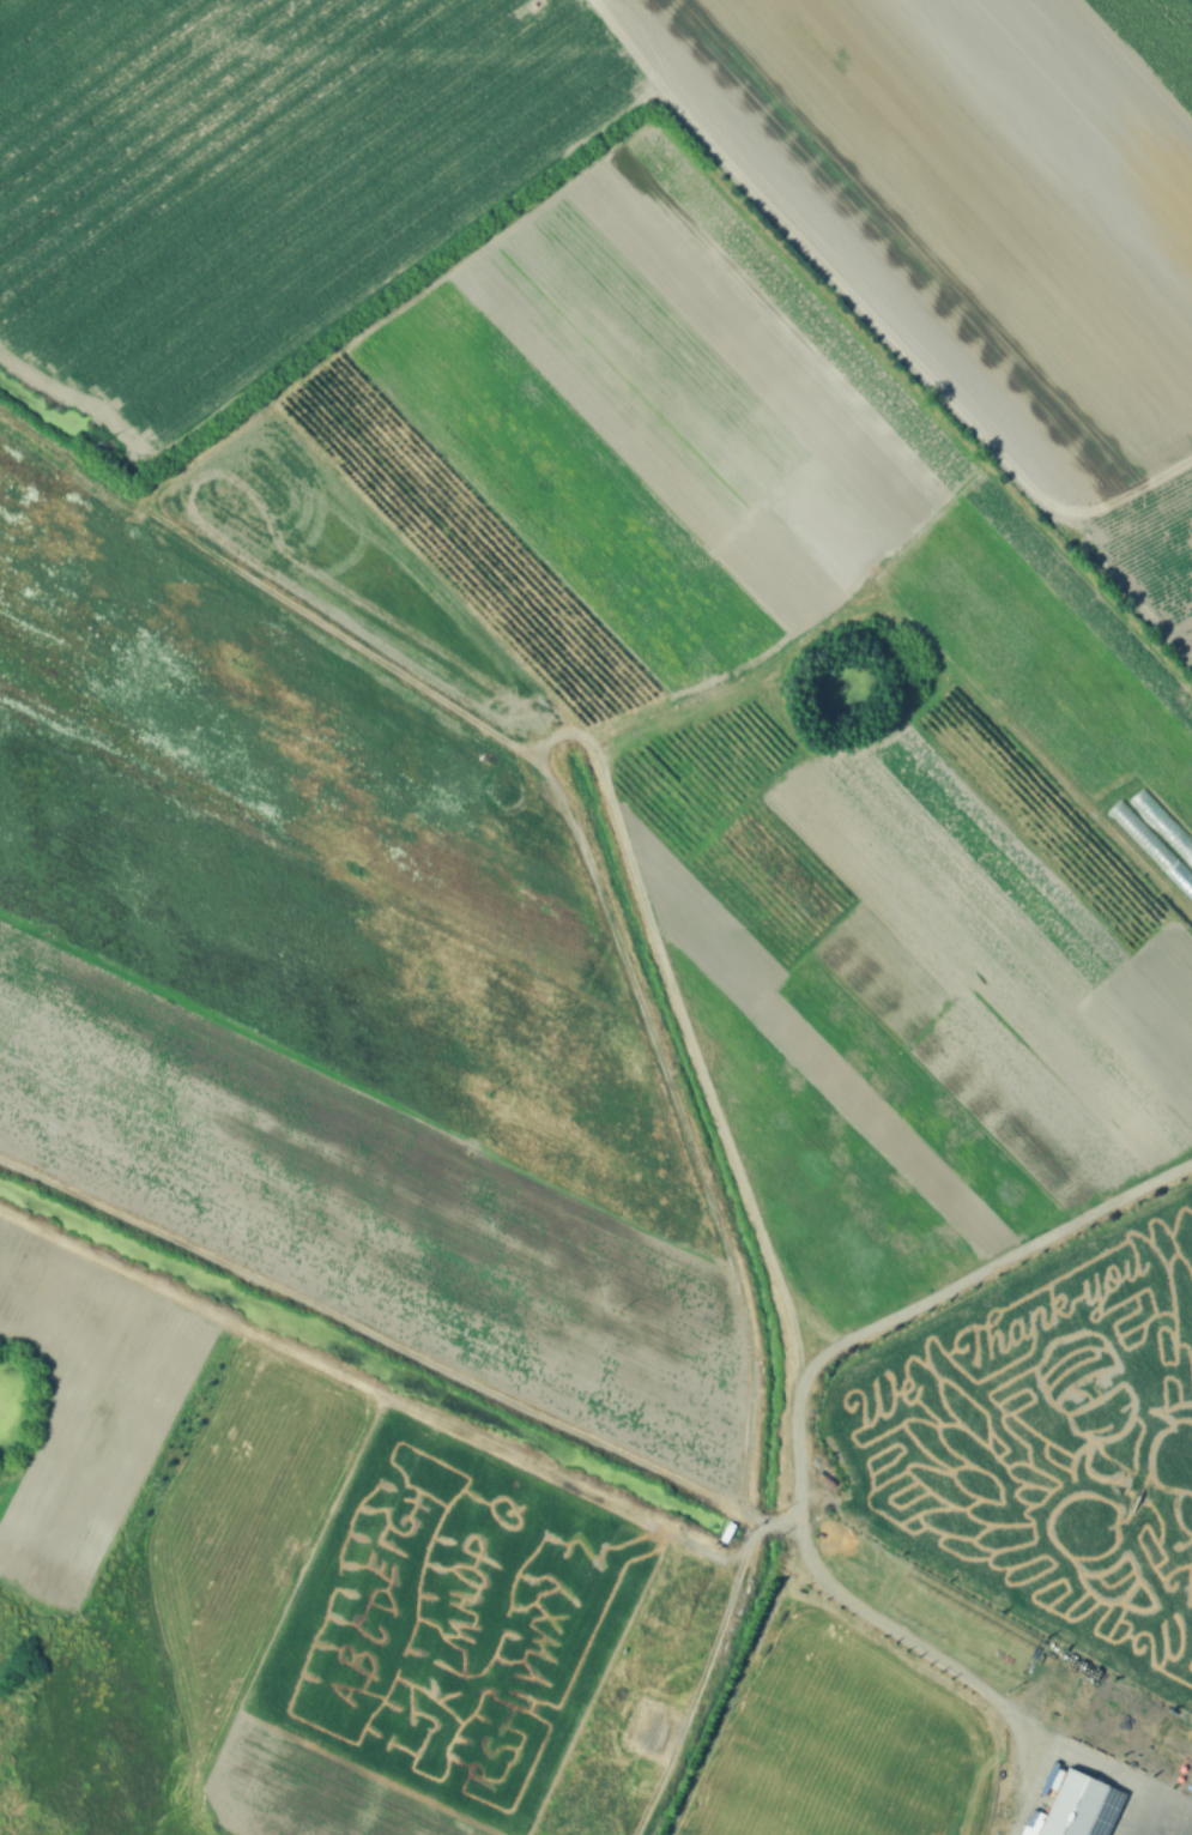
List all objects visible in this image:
road: (873, 309)
crop: (597, 658)
crop: (1043, 1439)
road: (797, 1480)
building: (728, 1529)
building: (1013, 1643)
crop: (431, 1646)
building: (1178, 1738)
building: (1013, 1783)
building: (1073, 1804)

